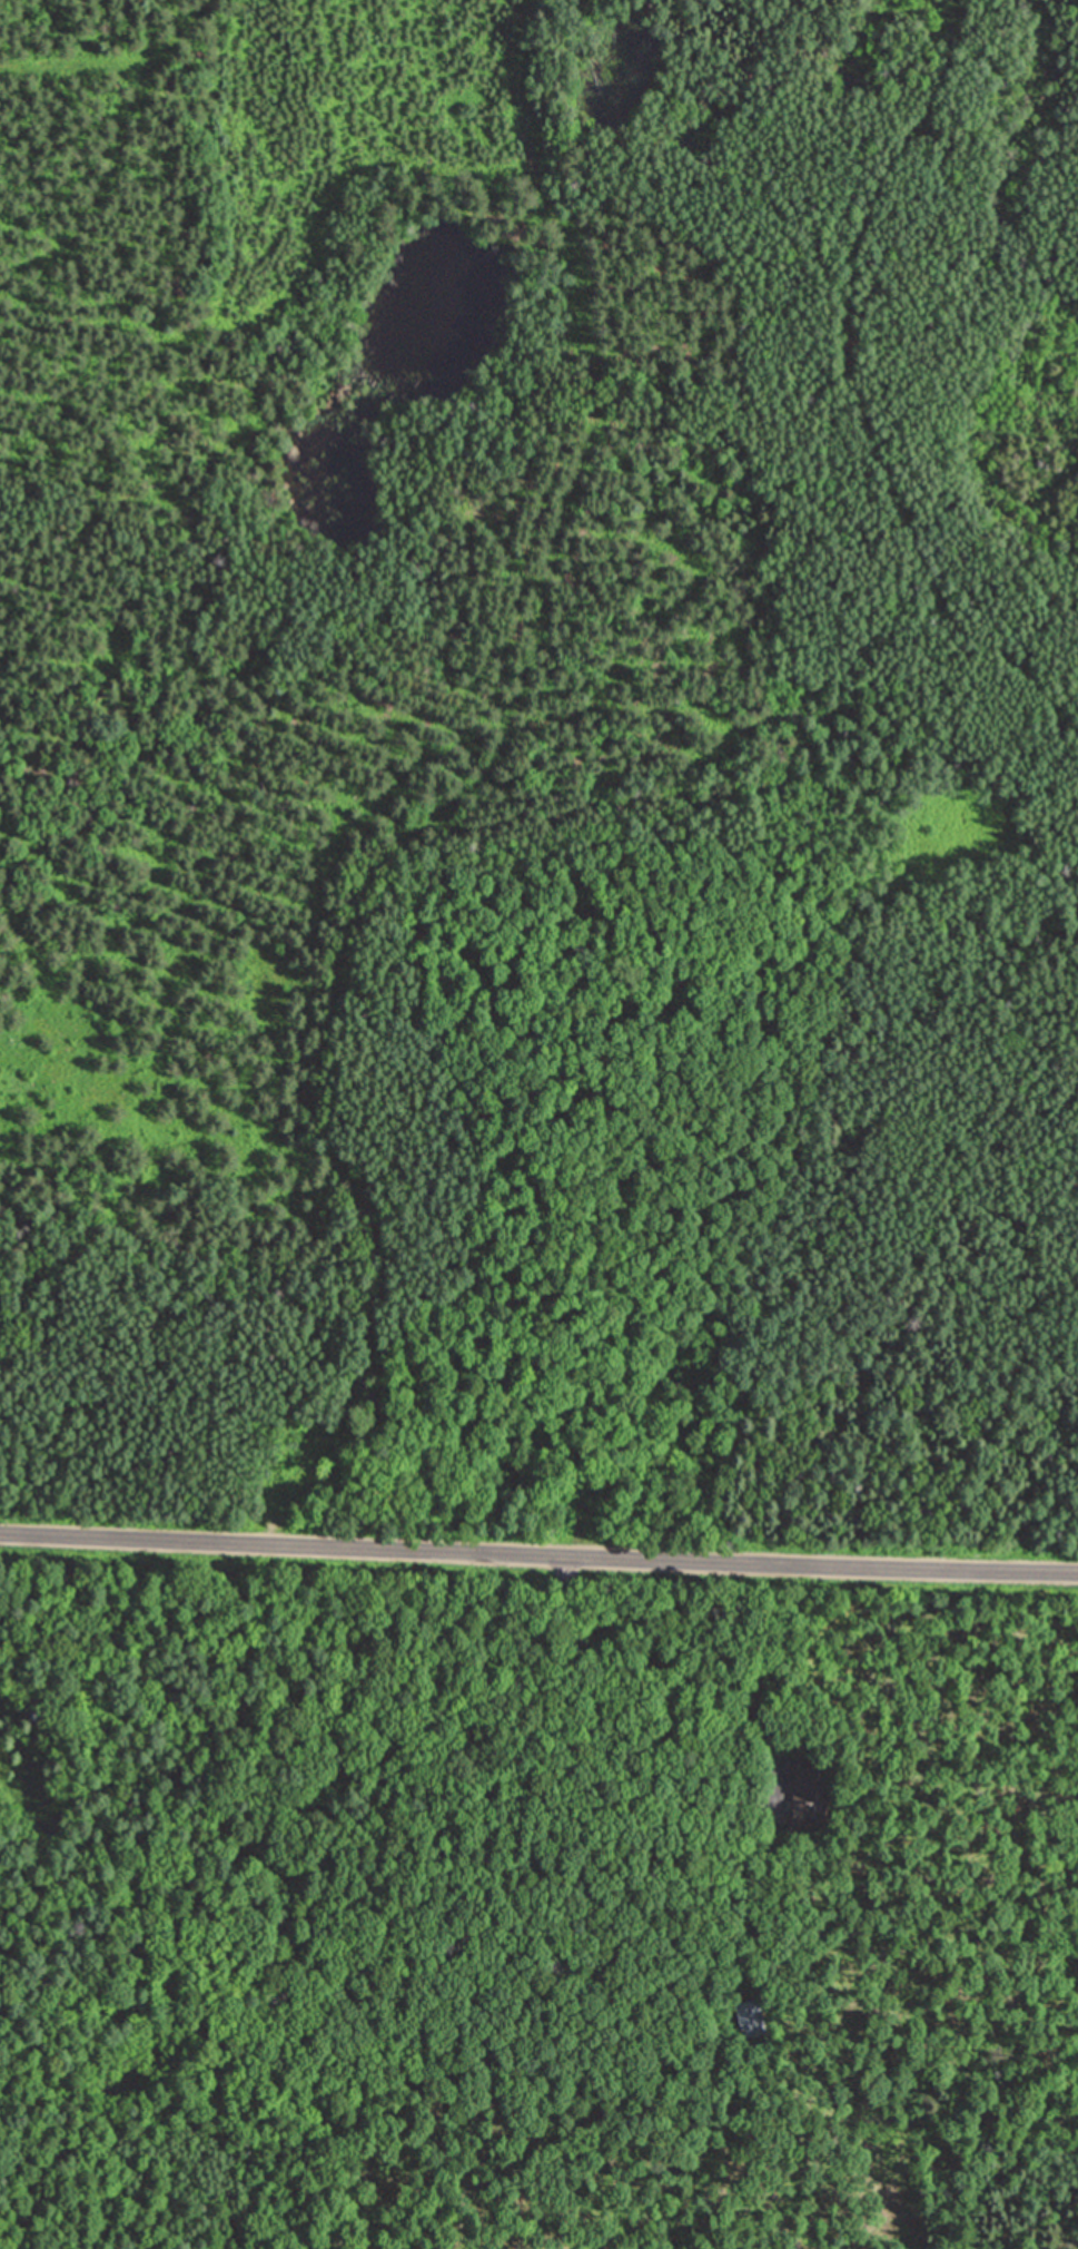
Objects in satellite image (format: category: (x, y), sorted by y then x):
road: (111, 57)
road: (455, 805)
road: (538, 1553)
building: (748, 2017)

